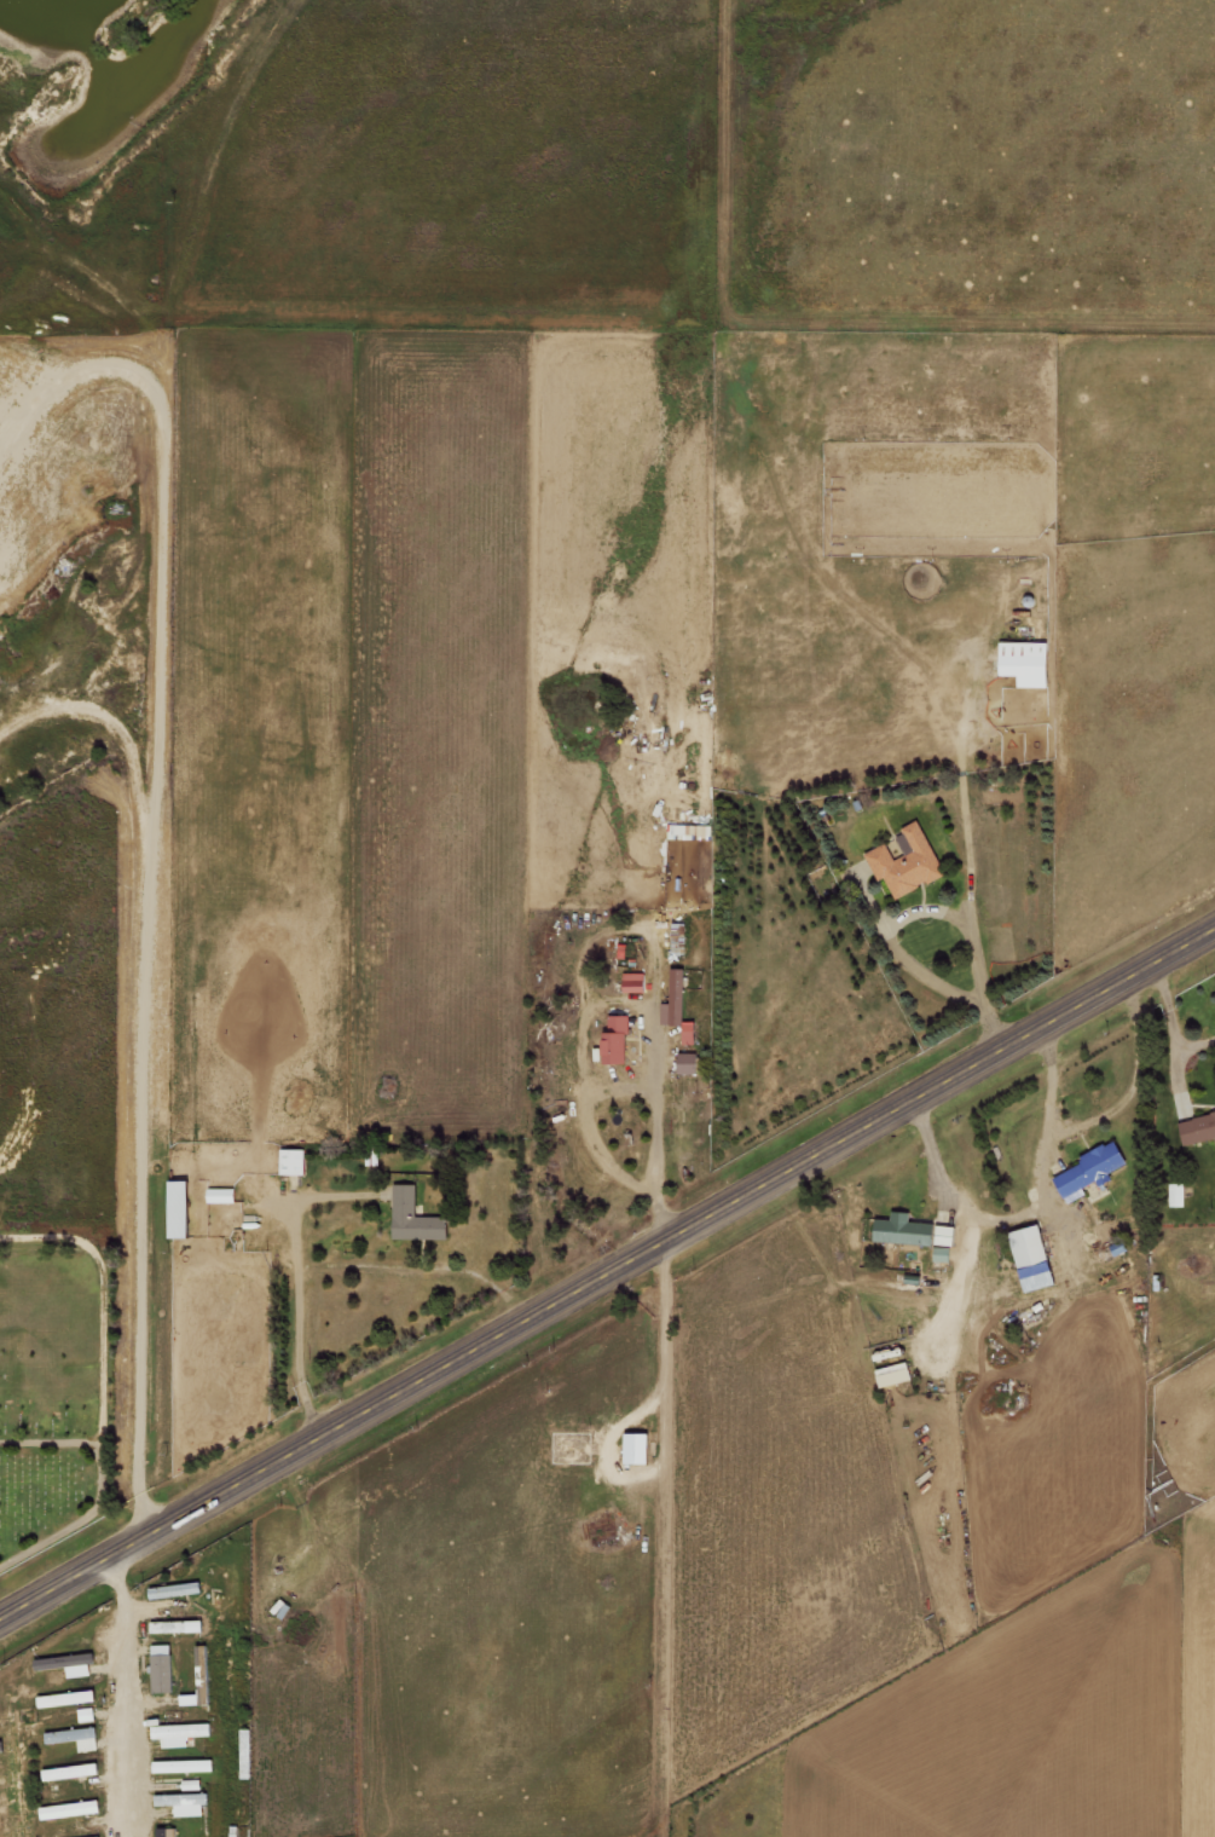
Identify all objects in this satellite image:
building: (1026, 662)
building: (690, 830)
building: (906, 861)
road: (145, 937)
building: (633, 982)
building: (677, 1006)
building: (617, 1039)
building: (687, 1063)
building: (1197, 1128)
building: (291, 1161)
building: (1088, 1171)
building: (220, 1194)
building: (1176, 1194)
building: (179, 1208)
building: (413, 1217)
building: (913, 1231)
building: (941, 1253)
building: (1032, 1258)
road: (607, 1266)
building: (893, 1374)
park: (52, 1394)
building: (637, 1448)
building: (175, 1589)
building: (177, 1625)
building: (63, 1664)
building: (161, 1668)
building: (66, 1698)
building: (187, 1698)
building: (178, 1732)
building: (81, 1737)
building: (183, 1764)
building: (70, 1770)
building: (184, 1802)
building: (69, 1808)
building: (166, 1831)

